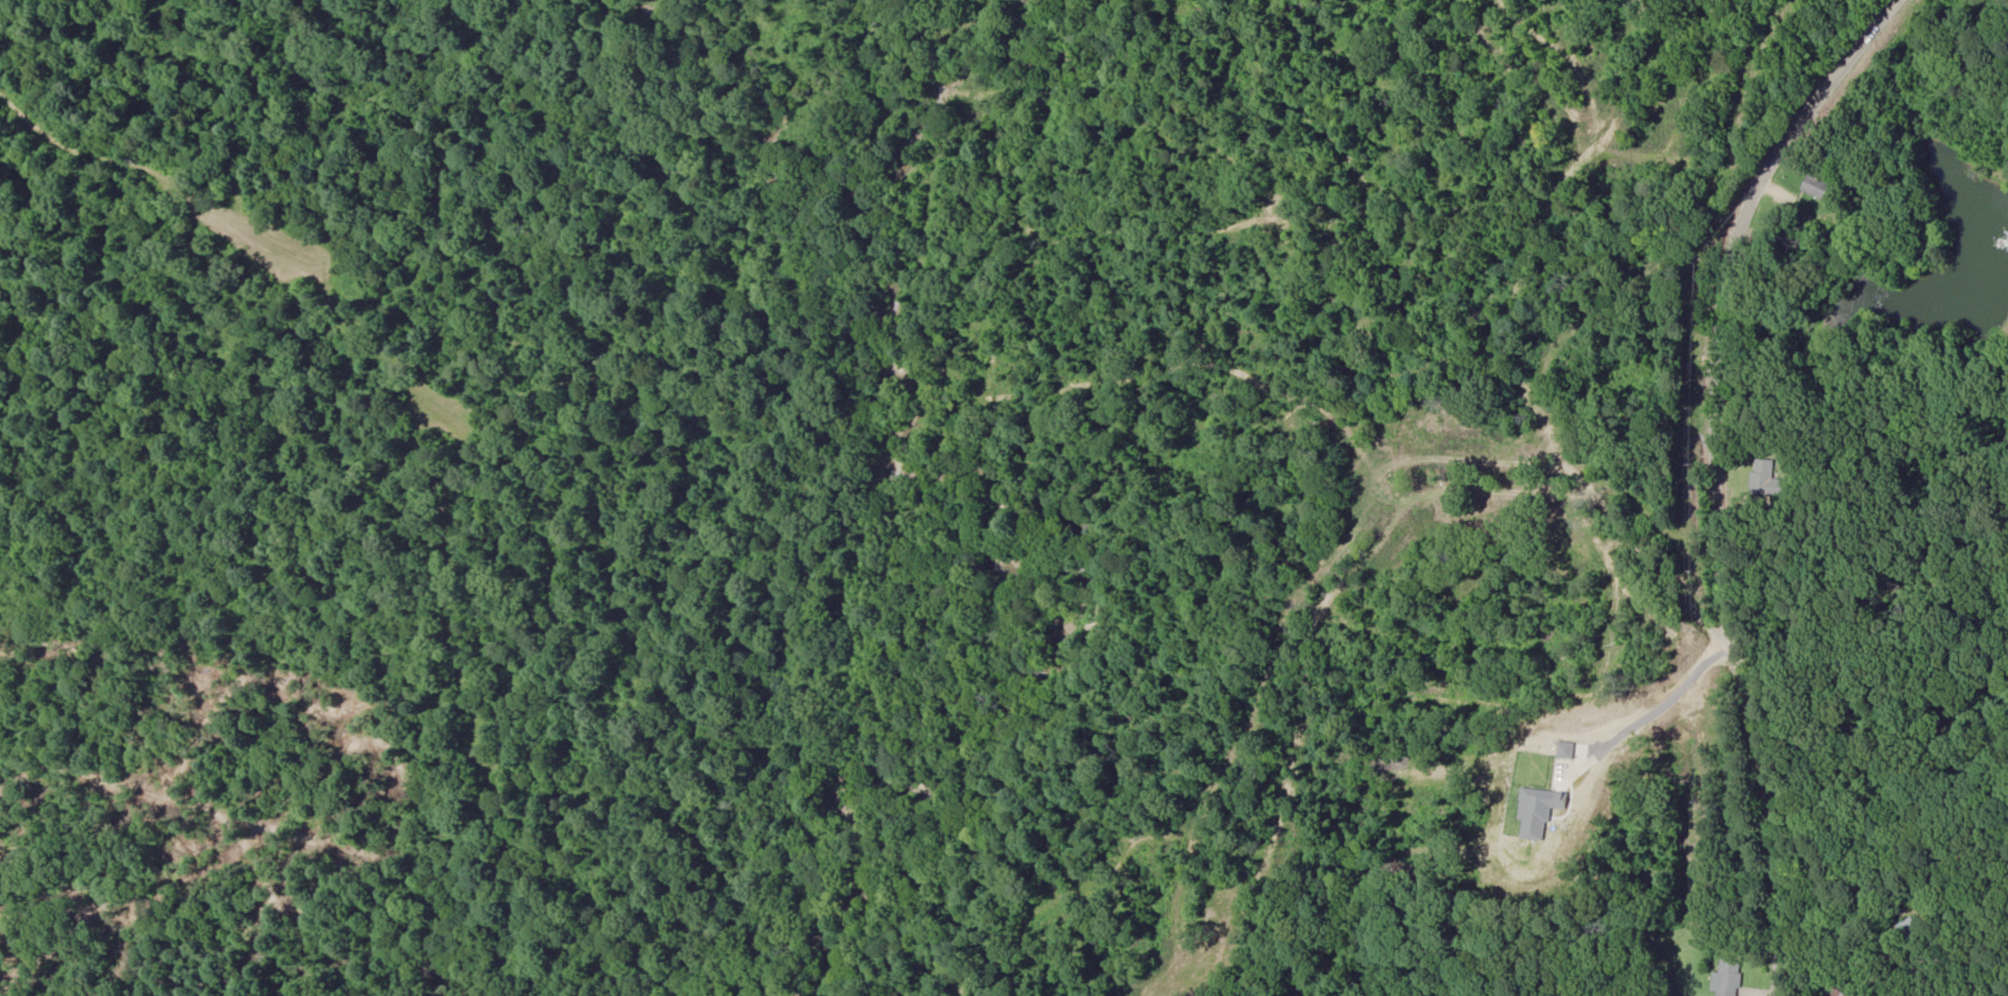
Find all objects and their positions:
building: (1819, 188)
building: (1767, 479)
road: (1707, 481)
building: (1908, 927)
building: (1727, 976)

